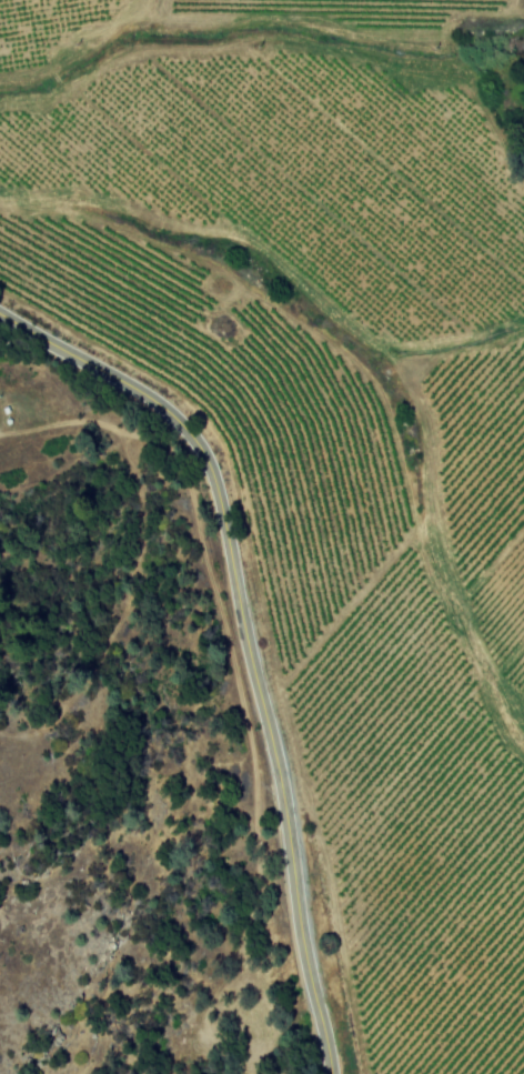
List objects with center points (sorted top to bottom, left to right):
road: (245, 639)

